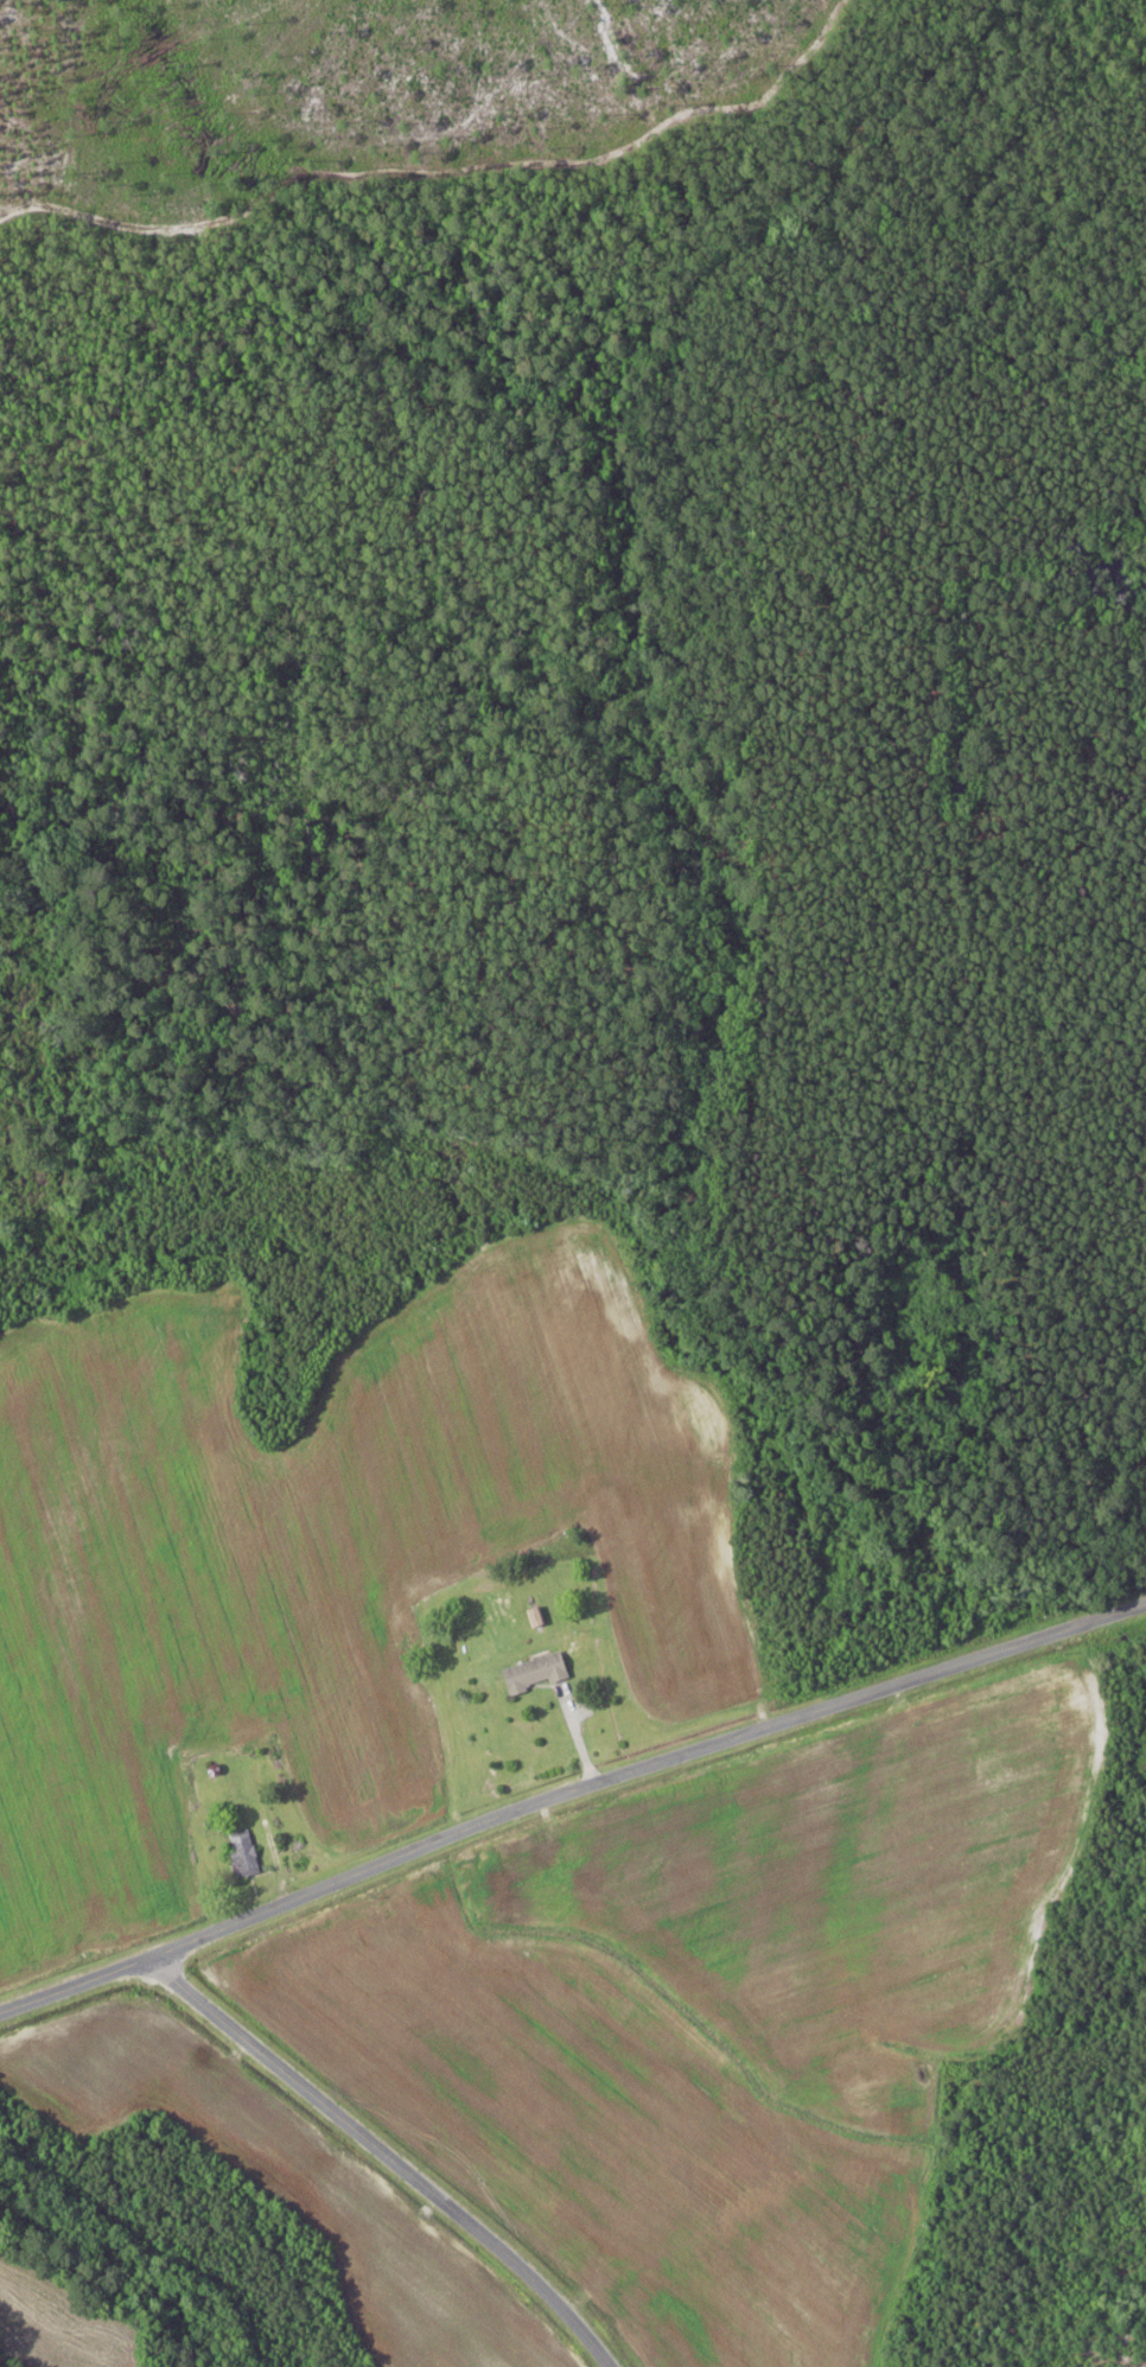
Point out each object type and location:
building: (540, 1617)
building: (539, 1673)
road: (569, 1794)
building: (246, 1854)
road: (406, 2155)

